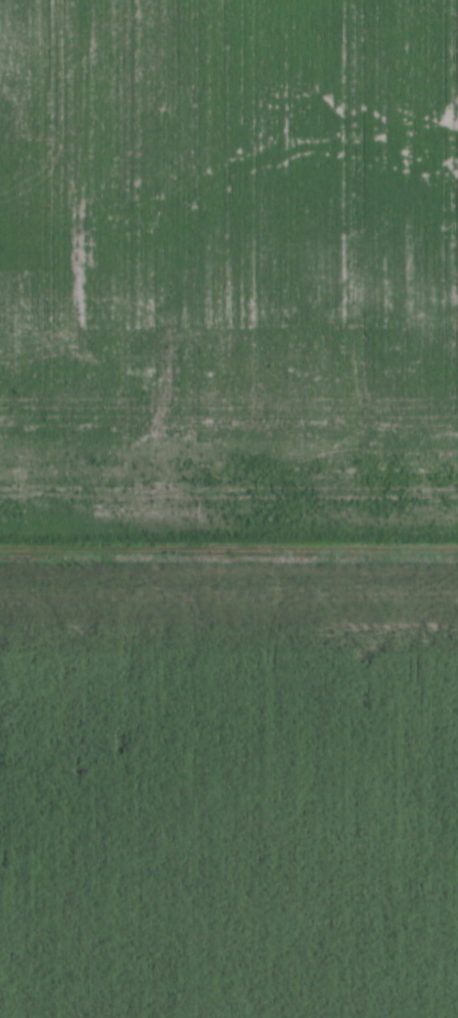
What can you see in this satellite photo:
road: (229, 550)

